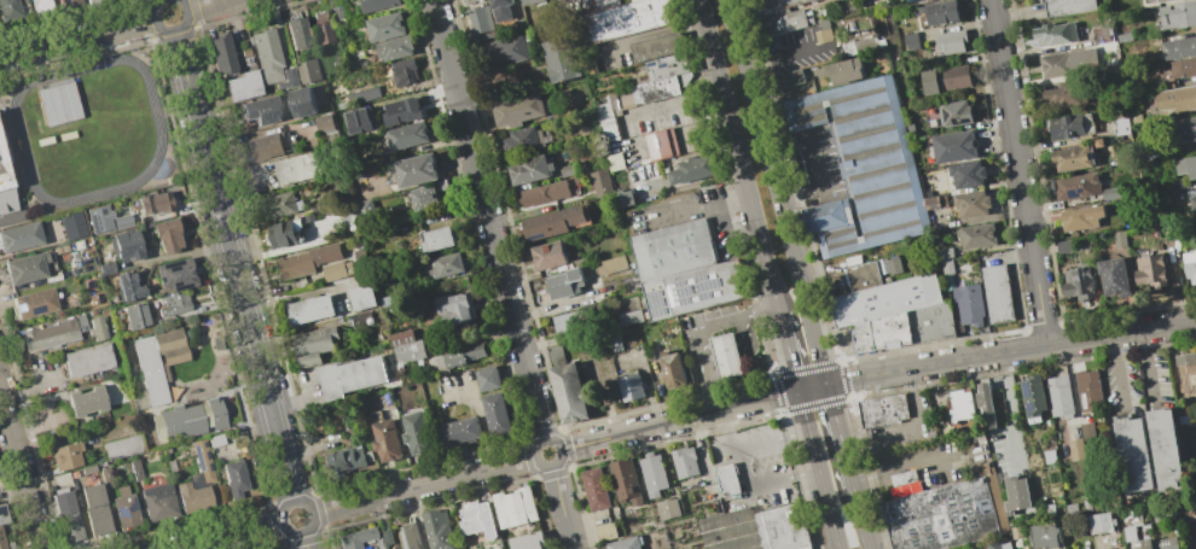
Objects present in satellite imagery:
building: (88, 0)
building: (465, 0)
building: (907, 0)
building: (1161, 0)
building: (530, 1)
building: (41, 2)
building: (70, 2)
building: (8, 4)
building: (376, 4)
road: (208, 5)
building: (1066, 6)
building: (500, 8)
building: (336, 12)
building: (939, 12)
building: (1177, 14)
building: (778, 16)
building: (631, 18)
building: (480, 19)
building: (325, 27)
building: (385, 27)
road: (172, 31)
building: (297, 33)
building: (824, 33)
building: (1053, 34)
road: (77, 39)
building: (911, 41)
building: (950, 41)
building: (657, 46)
building: (394, 47)
building: (1180, 47)
building: (503, 51)
building: (245, 52)
building: (220, 54)
building: (267, 54)
road: (785, 58)
building: (559, 59)
building: (1068, 63)
rooftop solar panel: (656, 65)
rooftop solar panel: (666, 66)
building: (1183, 68)
building: (844, 70)
building: (308, 71)
building: (403, 71)
building: (290, 77)
building: (786, 77)
building: (953, 77)
building: (662, 78)
building: (929, 81)
building: (242, 84)
building: (362, 95)
building: (1063, 95)
building: (1175, 98)
building: (301, 101)
road: (673, 104)
building: (261, 110)
building: (516, 110)
rooftop solar panel: (303, 111)
building: (402, 111)
building: (954, 113)
building: (605, 115)
rooftop solar panel: (271, 117)
building: (1136, 118)
building: (356, 121)
track: (17, 123)
building: (323, 123)
building: (1120, 125)
building: (1067, 127)
building: (1185, 128)
park: (89, 130)
building: (407, 135)
building: (522, 139)
rooftop solar panel: (661, 142)
building: (660, 144)
building: (263, 146)
building: (954, 146)
road: (737, 156)
building: (1073, 158)
road: (815, 164)
parking lot: (819, 164)
building: (864, 165)
building: (1186, 167)
building: (298, 168)
building: (416, 169)
building: (528, 169)
building: (691, 169)
building: (567, 170)
road: (1017, 171)
building: (966, 174)
building: (599, 182)
building: (1172, 183)
building: (517, 186)
building: (1076, 186)
building: (6, 188)
building: (547, 191)
road: (778, 191)
building: (1195, 191)
building: (1110, 192)
rooftop solar panel: (1078, 193)
building: (423, 197)
building: (623, 198)
building: (931, 202)
building: (155, 203)
building: (971, 203)
building: (1192, 203)
building: (278, 204)
building: (365, 206)
road: (708, 209)
building: (98, 217)
building: (309, 217)
building: (1080, 217)
road: (488, 220)
building: (1195, 220)
building: (122, 221)
building: (551, 222)
building: (71, 224)
building: (353, 226)
building: (285, 233)
building: (19, 235)
building: (166, 235)
building: (976, 235)
rooftop solar panel: (536, 236)
building: (437, 238)
building: (1117, 238)
building: (124, 246)
building: (1063, 246)
building: (675, 250)
building: (944, 252)
building: (547, 255)
building: (359, 256)
building: (306, 261)
building: (446, 264)
building: (1190, 264)
road: (234, 265)
building: (611, 265)
building: (895, 265)
building: (28, 267)
building: (946, 267)
building: (105, 268)
building: (336, 269)
building: (1150, 270)
building: (175, 274)
building: (861, 276)
building: (1113, 276)
rooftop solar panel: (703, 279)
building: (1079, 282)
building: (564, 284)
rooftop solar panel: (683, 285)
building: (127, 286)
rooftop solar panel: (708, 286)
building: (696, 288)
rooftop solar panel: (685, 290)
building: (997, 293)
rooftop solar panel: (656, 294)
rooftop solar panel: (707, 294)
rooftop solar panel: (672, 296)
building: (362, 297)
building: (92, 299)
building: (886, 299)
rooftop solar panel: (686, 300)
building: (34, 303)
rooftop solar panel: (657, 303)
building: (174, 304)
building: (969, 304)
rooftop solar panel: (17, 308)
building: (454, 308)
rooftop solar panel: (35, 309)
building: (310, 309)
rooftop solar panel: (661, 313)
building: (134, 316)
building: (629, 317)
building: (361, 320)
building: (573, 320)
building: (931, 322)
building: (97, 327)
road: (692, 329)
building: (892, 331)
building: (50, 333)
building: (864, 337)
building: (216, 341)
building: (615, 344)
building: (312, 345)
building: (406, 346)
road: (788, 351)
road: (742, 354)
building: (726, 355)
building: (459, 356)
building: (86, 360)
building: (156, 363)
road: (1146, 367)
building: (673, 368)
road: (1116, 372)
road: (875, 373)
building: (1185, 373)
building: (350, 375)
building: (488, 379)
traffic signals: (826, 382)
building: (629, 385)
building: (565, 386)
traffic signals: (799, 390)
rooftop solar panel: (1029, 390)
building: (1088, 390)
building: (1058, 396)
building: (1033, 397)
building: (86, 401)
rooftop solar panel: (1085, 402)
building: (985, 404)
building: (960, 405)
road: (1010, 407)
rooftop solar panel: (1030, 407)
building: (881, 410)
building: (497, 414)
building: (191, 419)
road: (836, 421)
building: (458, 431)
building: (1086, 431)
building: (416, 432)
building: (1189, 437)
building: (215, 439)
building: (385, 440)
road: (556, 444)
building: (122, 446)
building: (1075, 448)
building: (1165, 449)
rooftop solar panel: (207, 455)
building: (1134, 455)
building: (65, 456)
rooftop solar panel: (198, 457)
building: (1050, 457)
building: (203, 461)
building: (341, 461)
building: (684, 461)
road: (912, 462)
road: (21, 467)
road: (745, 467)
building: (87, 468)
road: (818, 468)
building: (135, 469)
building: (105, 473)
building: (654, 473)
building: (234, 478)
building: (902, 478)
building: (727, 479)
building: (625, 481)
road: (425, 484)
building: (594, 489)
building: (1016, 493)
building: (192, 497)
building: (158, 501)
road: (858, 504)
building: (1086, 504)
rooftop solar panel: (132, 506)
road: (312, 506)
building: (124, 507)
building: (513, 507)
road: (561, 507)
building: (1050, 507)
building: (1070, 507)
building: (667, 508)
building: (94, 509)
rooftop solar panel: (120, 510)
building: (2, 513)
building: (947, 513)
building: (66, 516)
building: (476, 519)
building: (1101, 521)
building: (1130, 524)
building: (755, 528)
building: (437, 530)
building: (605, 532)
building: (1016, 532)
road: (226, 535)
building: (385, 536)
building: (410, 536)
building: (1044, 536)
building: (354, 537)
building: (527, 541)
road: (304, 542)
building: (5, 543)
building: (623, 543)
building: (1166, 543)
building: (1145, 544)
building: (999, 545)
building: (1194, 548)

